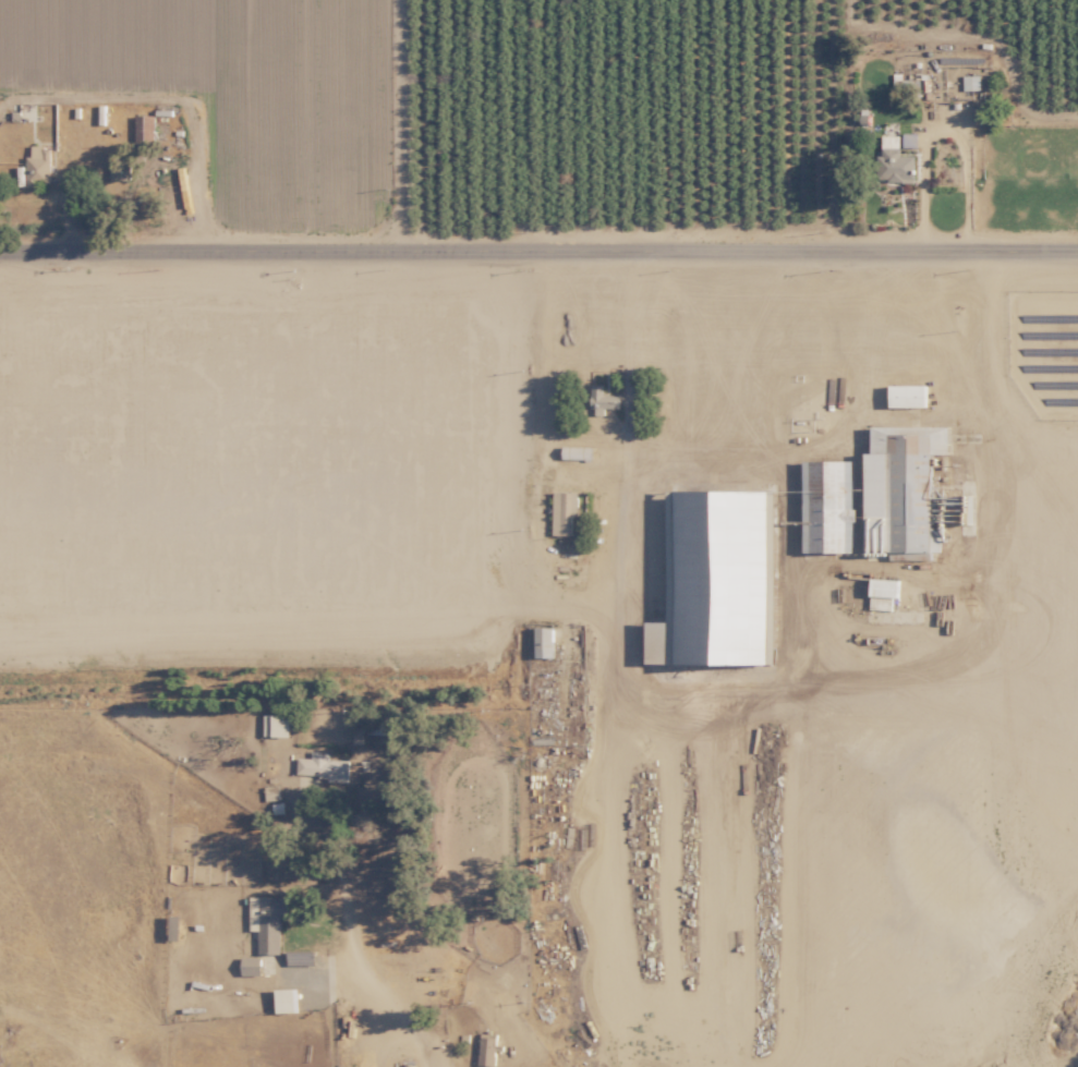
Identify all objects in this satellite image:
building: (970, 82)
building: (144, 129)
road: (945, 129)
crop: (204, 132)
building: (909, 140)
building: (894, 160)
building: (37, 166)
building: (119, 166)
road: (538, 251)
building: (907, 396)
building: (602, 399)
road: (628, 453)
building: (896, 493)
building: (827, 506)
building: (562, 511)
building: (882, 592)
building: (543, 642)
building: (278, 725)
building: (322, 767)
building: (266, 921)
building: (250, 966)
road: (385, 981)
building: (284, 1001)
building: (486, 1050)

